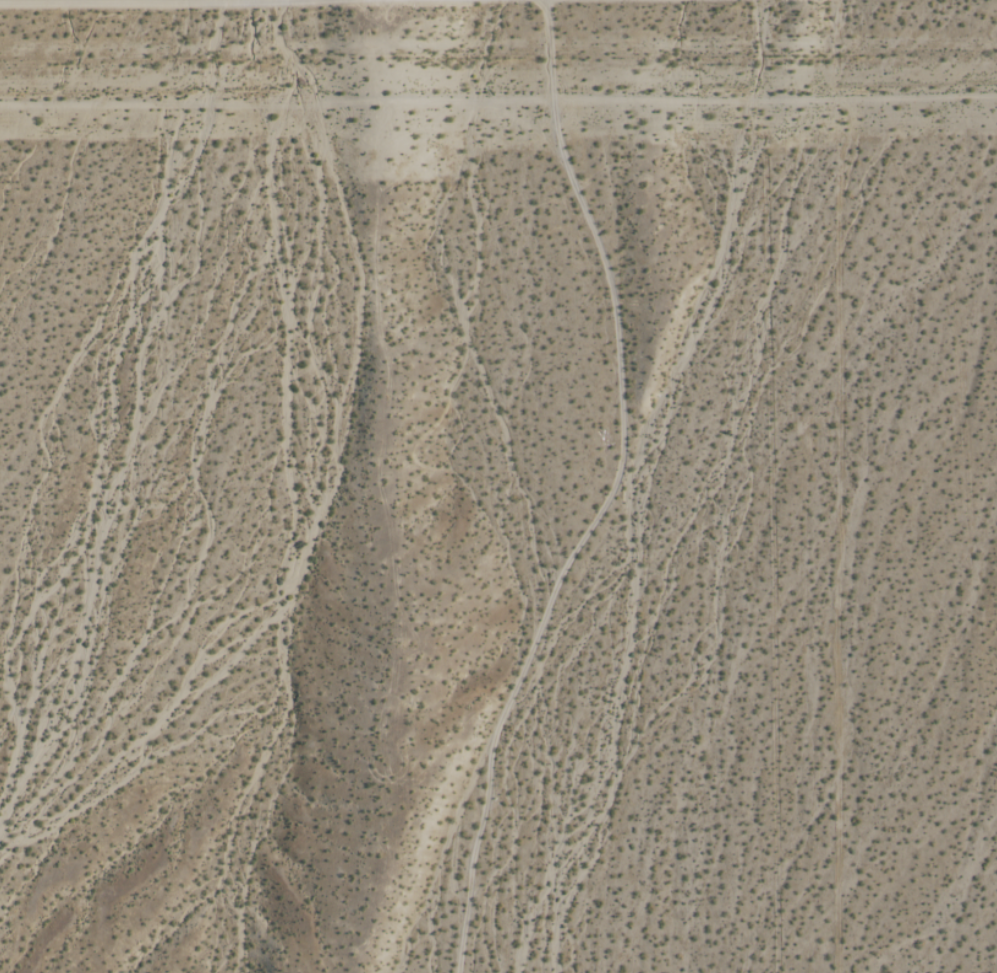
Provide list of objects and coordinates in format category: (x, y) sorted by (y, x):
road: (147, 2)

